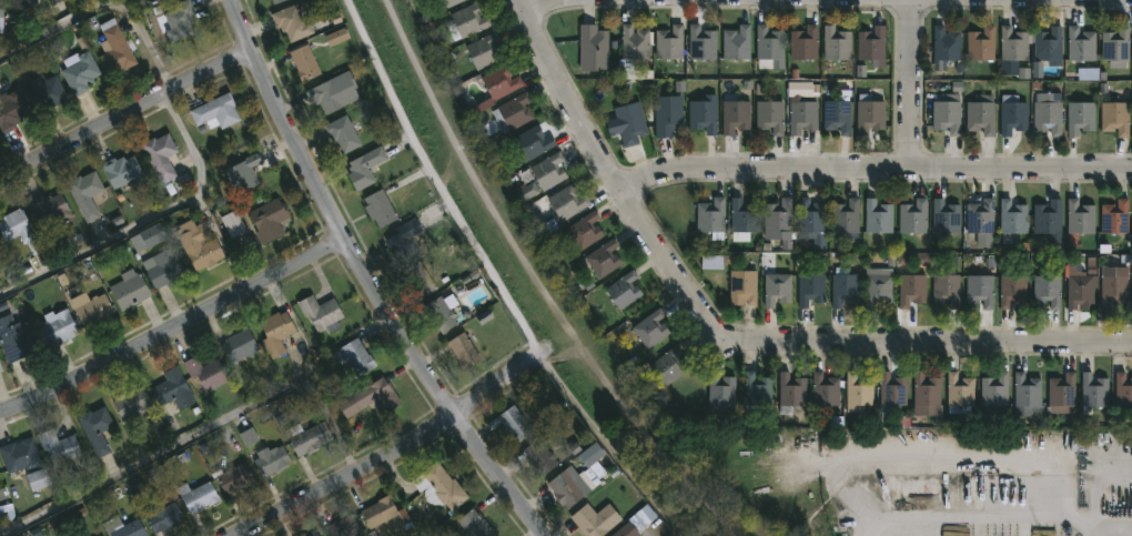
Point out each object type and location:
building: (163, 0)
road: (526, 0)
building: (53, 1)
building: (275, 1)
building: (26, 2)
building: (451, 2)
road: (104, 13)
building: (1, 17)
building: (176, 20)
building: (466, 21)
building: (291, 22)
building: (634, 42)
building: (669, 42)
building: (700, 42)
building: (736, 42)
building: (768, 42)
building: (803, 43)
building: (836, 43)
building: (870, 43)
building: (980, 43)
building: (1012, 43)
building: (1081, 44)
building: (944, 45)
building: (1048, 45)
building: (1116, 47)
building: (114, 48)
building: (593, 48)
building: (483, 51)
building: (304, 62)
building: (79, 70)
building: (499, 81)
road: (909, 85)
building: (332, 91)
building: (44, 92)
building: (11, 111)
building: (214, 111)
road: (125, 112)
building: (513, 112)
building: (838, 113)
building: (948, 113)
building: (666, 114)
building: (703, 114)
building: (869, 114)
building: (980, 114)
building: (1012, 114)
building: (1049, 114)
building: (736, 115)
building: (802, 115)
building: (770, 117)
building: (1080, 117)
building: (1115, 118)
building: (630, 122)
building: (342, 133)
road: (189, 142)
building: (532, 142)
building: (159, 155)
building: (364, 168)
building: (121, 170)
building: (548, 171)
road: (878, 171)
building: (241, 173)
building: (85, 196)
building: (567, 202)
building: (49, 208)
building: (378, 208)
building: (744, 216)
building: (846, 216)
building: (877, 216)
building: (912, 216)
building: (946, 216)
building: (1048, 216)
building: (710, 218)
building: (1079, 218)
building: (1115, 219)
building: (267, 220)
building: (779, 220)
building: (811, 220)
building: (1011, 220)
building: (980, 221)
building: (232, 223)
building: (18, 230)
building: (584, 230)
building: (145, 236)
building: (403, 239)
road: (100, 244)
building: (199, 245)
building: (135, 255)
building: (603, 259)
building: (163, 269)
road: (368, 279)
building: (417, 280)
road: (498, 281)
railway: (538, 285)
building: (742, 286)
building: (878, 286)
building: (1112, 287)
building: (129, 289)
building: (624, 289)
building: (776, 289)
building: (810, 289)
building: (845, 289)
building: (1079, 289)
building: (911, 290)
building: (946, 290)
building: (980, 290)
building: (1012, 290)
building: (1047, 290)
building: (93, 310)
building: (442, 312)
building: (320, 313)
road: (186, 321)
building: (57, 327)
building: (649, 328)
building: (275, 332)
building: (16, 338)
road: (728, 344)
building: (237, 346)
building: (462, 351)
building: (354, 356)
building: (669, 365)
building: (0, 370)
building: (205, 372)
building: (0, 373)
road: (499, 382)
building: (172, 390)
building: (757, 390)
building: (1123, 390)
building: (994, 391)
building: (1094, 391)
building: (825, 392)
building: (857, 392)
building: (891, 392)
building: (721, 393)
building: (790, 393)
building: (924, 393)
building: (1061, 393)
building: (960, 394)
building: (1027, 395)
building: (370, 397)
building: (131, 402)
building: (512, 424)
building: (94, 429)
road: (205, 435)
building: (307, 436)
building: (58, 446)
building: (18, 455)
building: (538, 457)
building: (270, 459)
road: (347, 477)
building: (233, 478)
building: (568, 486)
building: (438, 487)
building: (196, 496)
building: (378, 512)
building: (161, 515)
building: (595, 519)
building: (636, 523)
building: (474, 524)
road: (1113, 526)
building: (122, 527)
building: (343, 527)
building: (315, 535)

